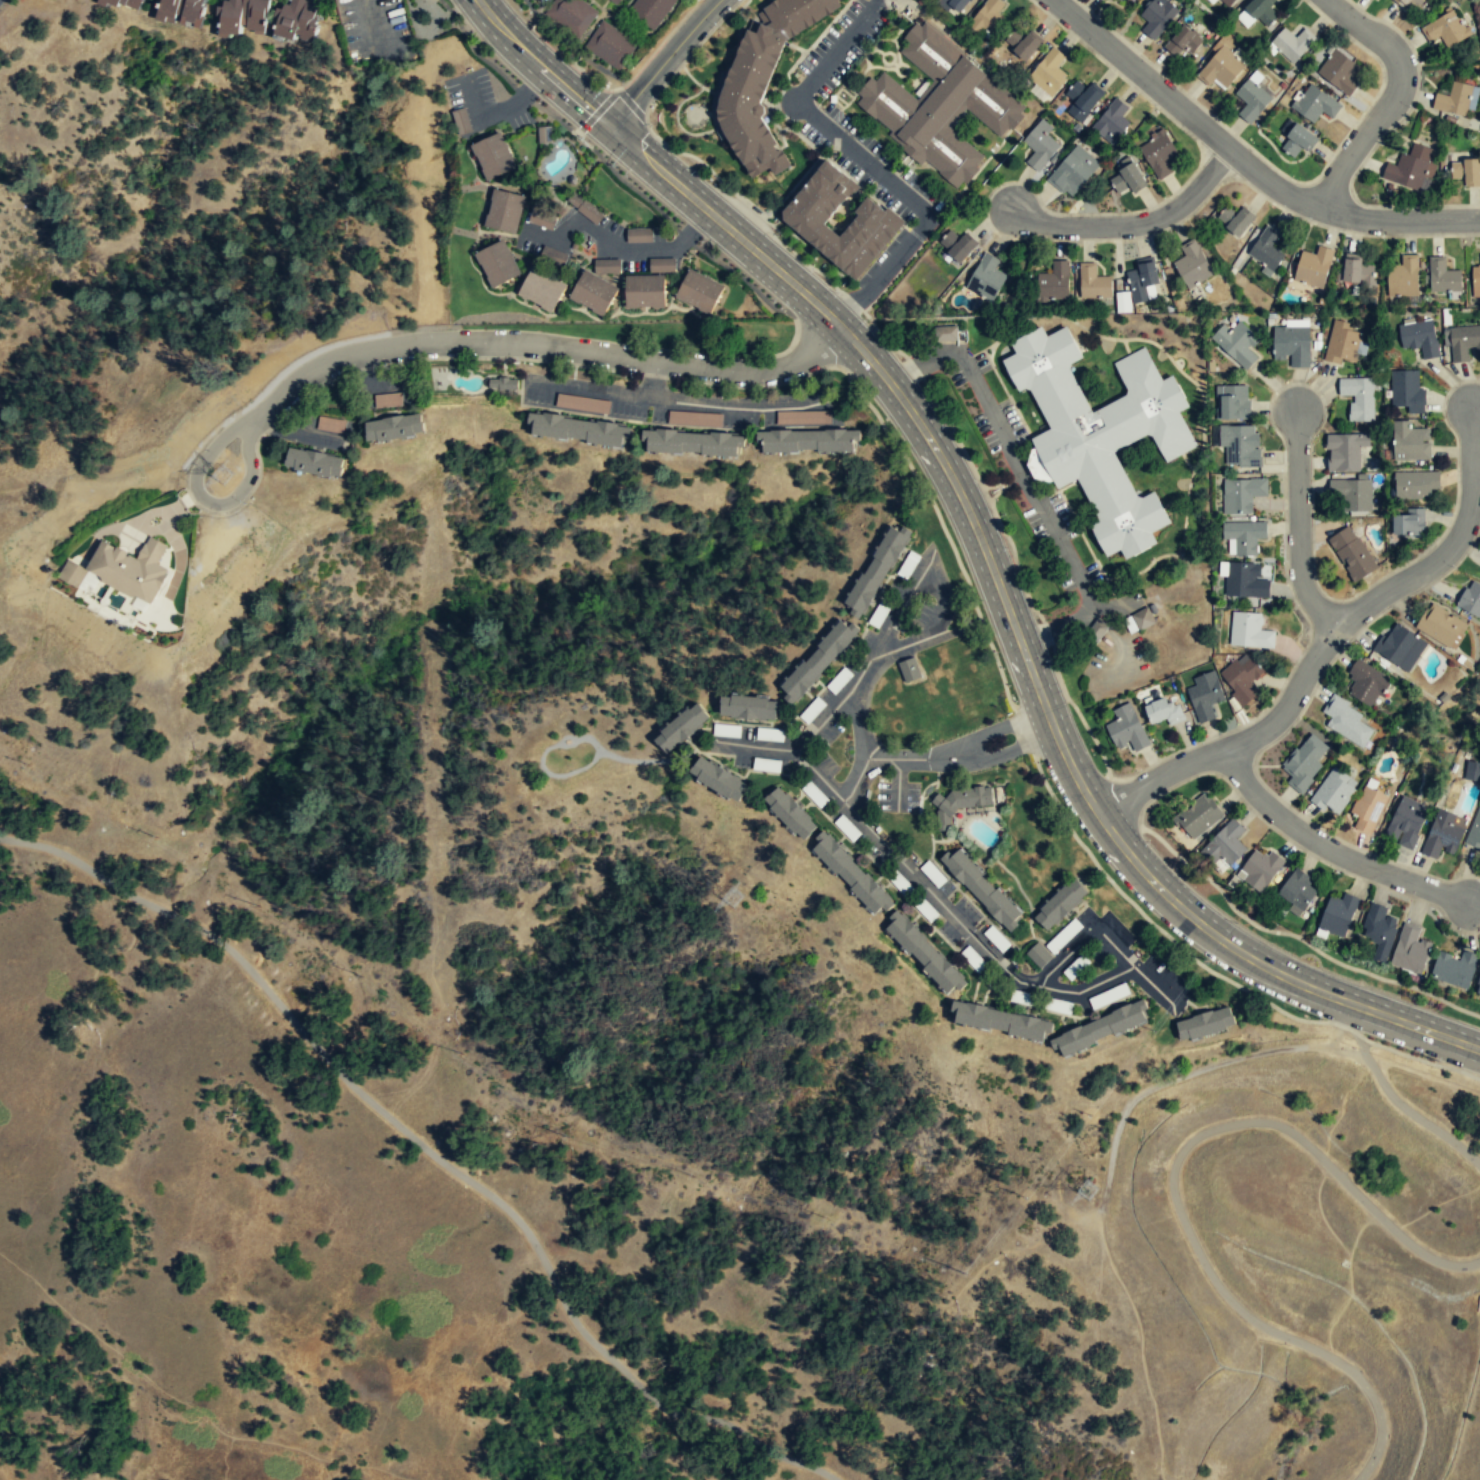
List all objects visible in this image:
building: (1375, 0)
building: (1120, 1)
building: (1209, 1)
building: (99, 2)
building: (615, 2)
building: (1227, 2)
building: (124, 3)
building: (1412, 3)
building: (955, 5)
building: (179, 11)
building: (651, 12)
building: (1257, 13)
building: (238, 16)
building: (572, 16)
building: (1157, 17)
building: (988, 18)
building: (294, 20)
road: (372, 22)
building: (1445, 30)
parking lot: (376, 31)
street lamp: (478, 41)
building: (1023, 44)
building: (1183, 44)
road: (658, 45)
building: (1292, 45)
building: (610, 46)
road: (664, 61)
road: (539, 66)
building: (1220, 69)
building: (1049, 72)
building: (1339, 73)
building: (762, 81)
road: (1390, 98)
building: (1252, 99)
building: (1083, 100)
building: (1454, 100)
street lamp: (540, 102)
building: (938, 105)
building: (1315, 105)
road: (499, 111)
building: (462, 120)
building: (1112, 123)
traffic signals: (609, 125)
building: (545, 134)
building: (1299, 141)
building: (1040, 146)
building: (1158, 154)
building: (494, 155)
road: (866, 161)
road: (1245, 162)
building: (1409, 168)
building: (1466, 170)
building: (1074, 172)
street lamp: (626, 175)
building: (1127, 180)
building: (505, 210)
building: (588, 210)
park: (166, 220)
building: (876, 220)
building: (1236, 220)
road: (1134, 223)
building: (638, 234)
street lamp: (702, 241)
building: (957, 245)
building: (1267, 250)
building: (552, 257)
building: (499, 263)
building: (605, 265)
building: (660, 265)
building: (1193, 265)
building: (1313, 268)
building: (1357, 273)
building: (986, 278)
building: (1403, 278)
building: (1443, 278)
building: (1141, 282)
building: (1475, 282)
building: (1054, 283)
building: (1093, 283)
building: (543, 289)
building: (647, 289)
building: (701, 289)
building: (595, 292)
street lamp: (774, 301)
building: (1121, 301)
building: (946, 333)
building: (1419, 338)
building: (1341, 344)
building: (1462, 344)
building: (1237, 345)
road: (540, 346)
building: (1292, 346)
street lamp: (519, 361)
street lamp: (388, 368)
street lamp: (632, 376)
street lamp: (790, 383)
building: (503, 385)
building: (1407, 392)
building: (1358, 399)
building: (388, 401)
building: (1232, 403)
street lamp: (295, 410)
building: (802, 417)
building: (694, 418)
building: (579, 426)
building: (394, 428)
building: (1100, 434)
building: (809, 437)
building: (694, 439)
building: (1410, 444)
building: (1240, 447)
building: (1345, 453)
building: (314, 463)
power tower: (223, 472)
road: (195, 478)
road: (920, 484)
building: (1415, 485)
building: (1241, 495)
building: (1352, 495)
street lamp: (245, 503)
road: (1299, 524)
building: (1409, 524)
building: (1243, 538)
road: (1452, 543)
building: (1352, 553)
building: (908, 564)
building: (877, 567)
road: (925, 568)
building: (131, 569)
building: (1244, 582)
building: (1471, 598)
building: (1139, 620)
building: (1441, 627)
road: (1014, 630)
building: (1096, 630)
building: (1249, 632)
building: (1397, 646)
building: (818, 659)
building: (909, 669)
building: (1241, 677)
building: (839, 680)
building: (1366, 684)
building: (1205, 696)
building: (749, 707)
building: (1164, 712)
building: (1347, 722)
road: (821, 724)
road: (861, 724)
building: (682, 727)
road: (995, 727)
building: (1126, 729)
road: (568, 743)
road: (1238, 743)
road: (1004, 753)
road: (884, 758)
building: (1304, 763)
building: (1473, 772)
building: (720, 778)
building: (1334, 792)
building: (958, 805)
building: (1368, 811)
building: (791, 812)
building: (1198, 816)
building: (1407, 823)
building: (1475, 830)
building: (1442, 836)
building: (1225, 846)
road: (1329, 849)
building: (1260, 869)
building: (852, 873)
building: (982, 889)
building: (1298, 892)
power tower: (732, 899)
road: (938, 899)
building: (1060, 904)
building: (1337, 916)
building: (1379, 931)
road: (1085, 935)
building: (1411, 950)
building: (924, 953)
building: (974, 960)
street lamp: (1209, 960)
building: (1455, 969)
building: (1478, 990)
building: (1001, 1021)
building: (1205, 1024)
building: (1099, 1029)
road: (1420, 1059)
street lamp: (1441, 1061)
road: (1397, 1101)
park: (612, 1144)
road: (432, 1151)
road: (1172, 1184)
power tower: (1086, 1192)

